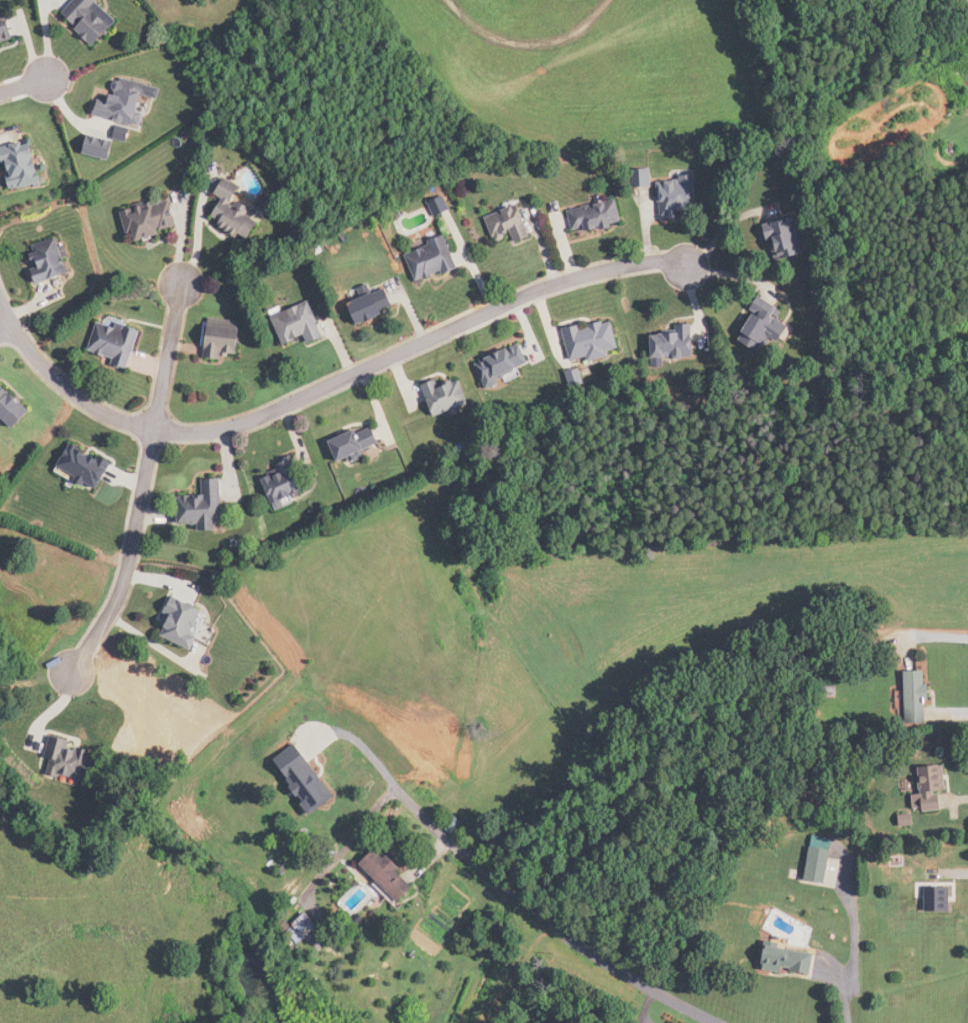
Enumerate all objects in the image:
building: (92, 19)
building: (6, 31)
road: (23, 83)
building: (125, 102)
building: (22, 165)
building: (675, 198)
building: (443, 207)
building: (235, 215)
building: (598, 218)
building: (151, 220)
road: (726, 224)
building: (512, 226)
building: (789, 238)
building: (434, 261)
building: (50, 262)
building: (374, 307)
building: (300, 325)
road: (5, 326)
building: (766, 327)
building: (225, 339)
building: (594, 340)
building: (116, 343)
building: (677, 344)
building: (506, 365)
road: (325, 385)
building: (449, 398)
building: (14, 407)
building: (359, 444)
building: (86, 468)
road: (143, 482)
building: (288, 483)
building: (206, 508)
building: (184, 625)
building: (920, 695)
building: (68, 759)
road: (377, 764)
building: (935, 789)
building: (823, 861)
building: (392, 873)
building: (307, 925)
road: (569, 936)
building: (794, 958)

